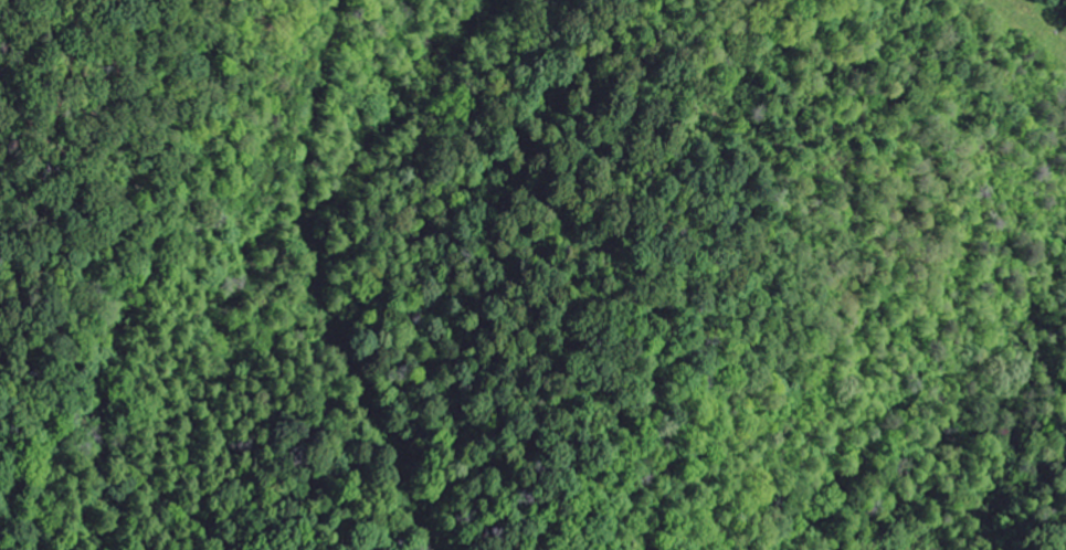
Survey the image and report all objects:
road: (1031, 38)

